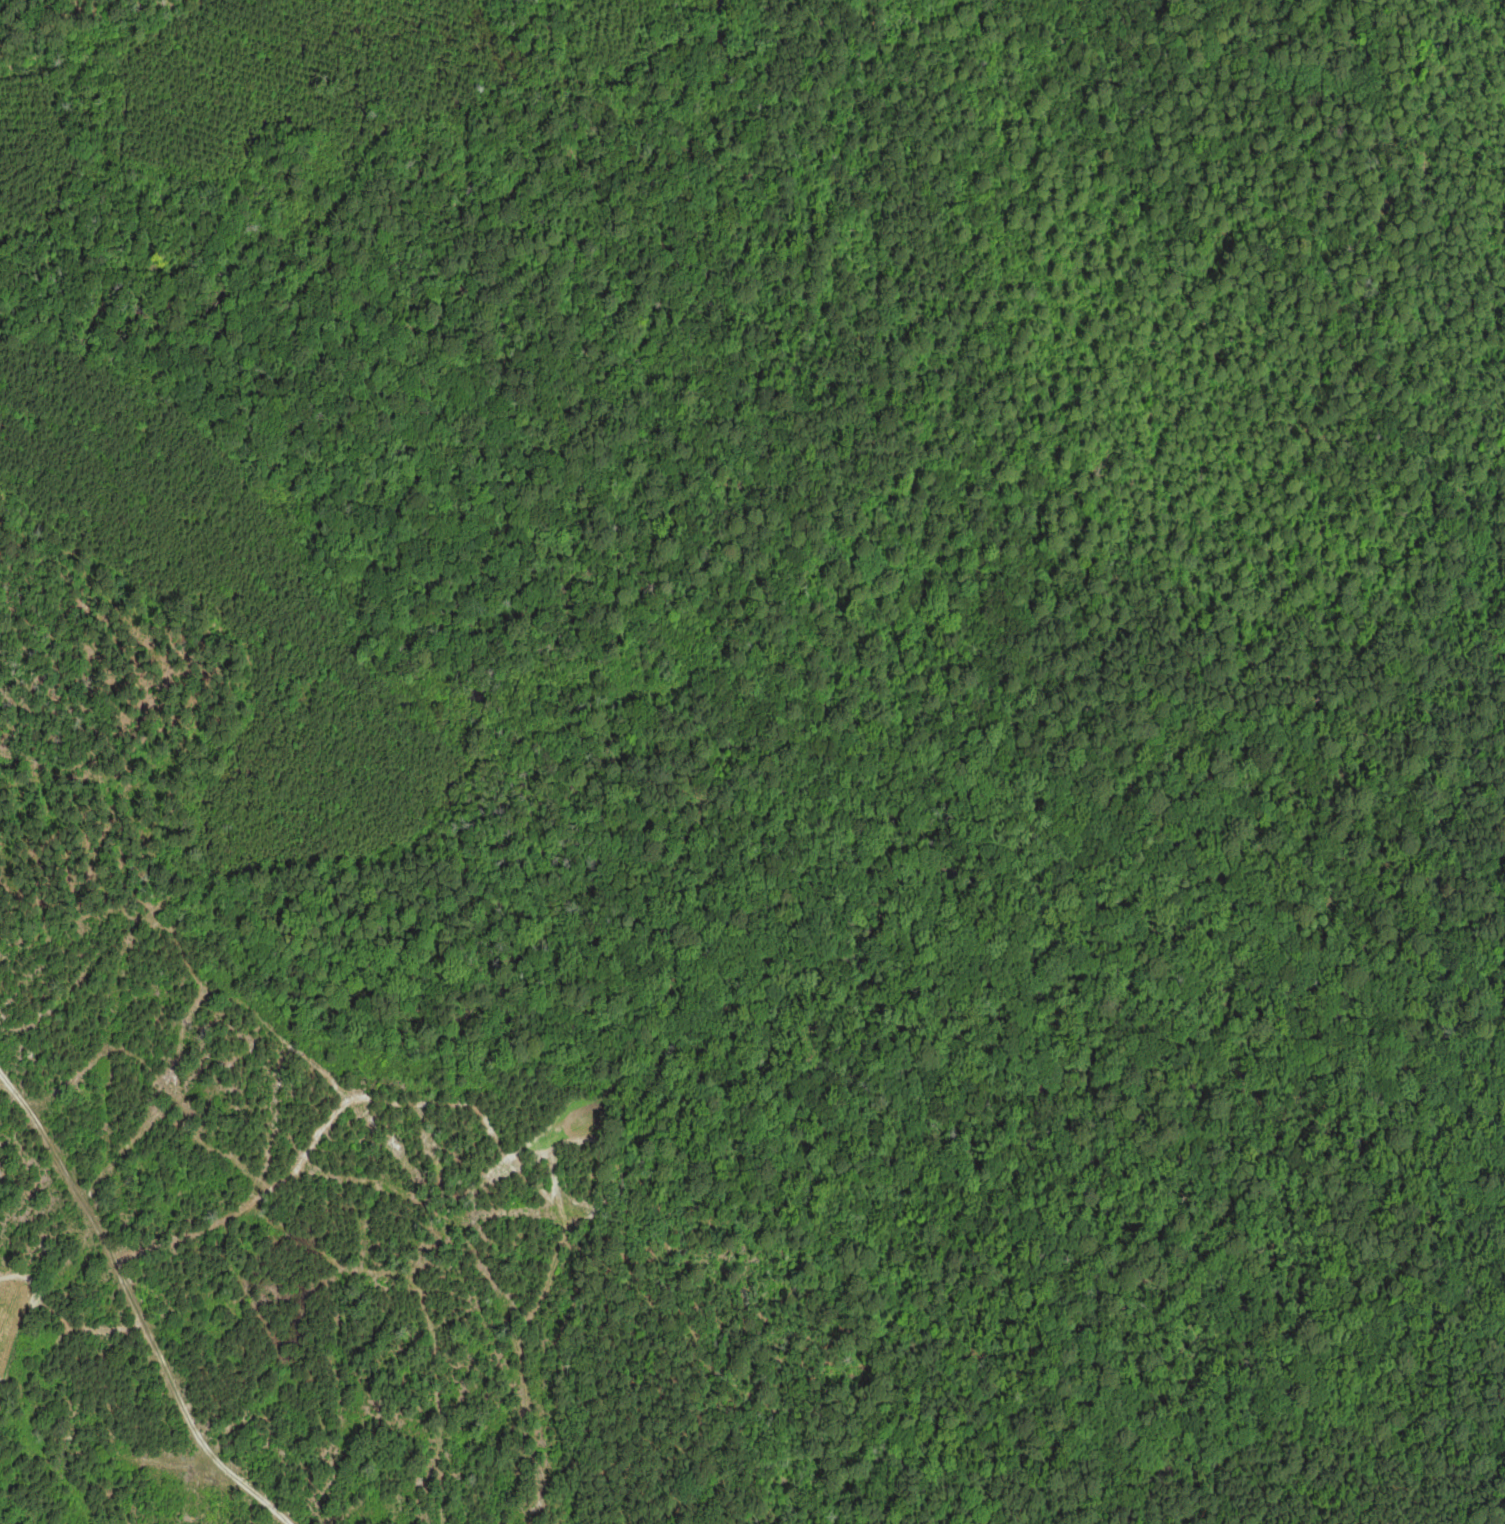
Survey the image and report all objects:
park: (1102, 815)

